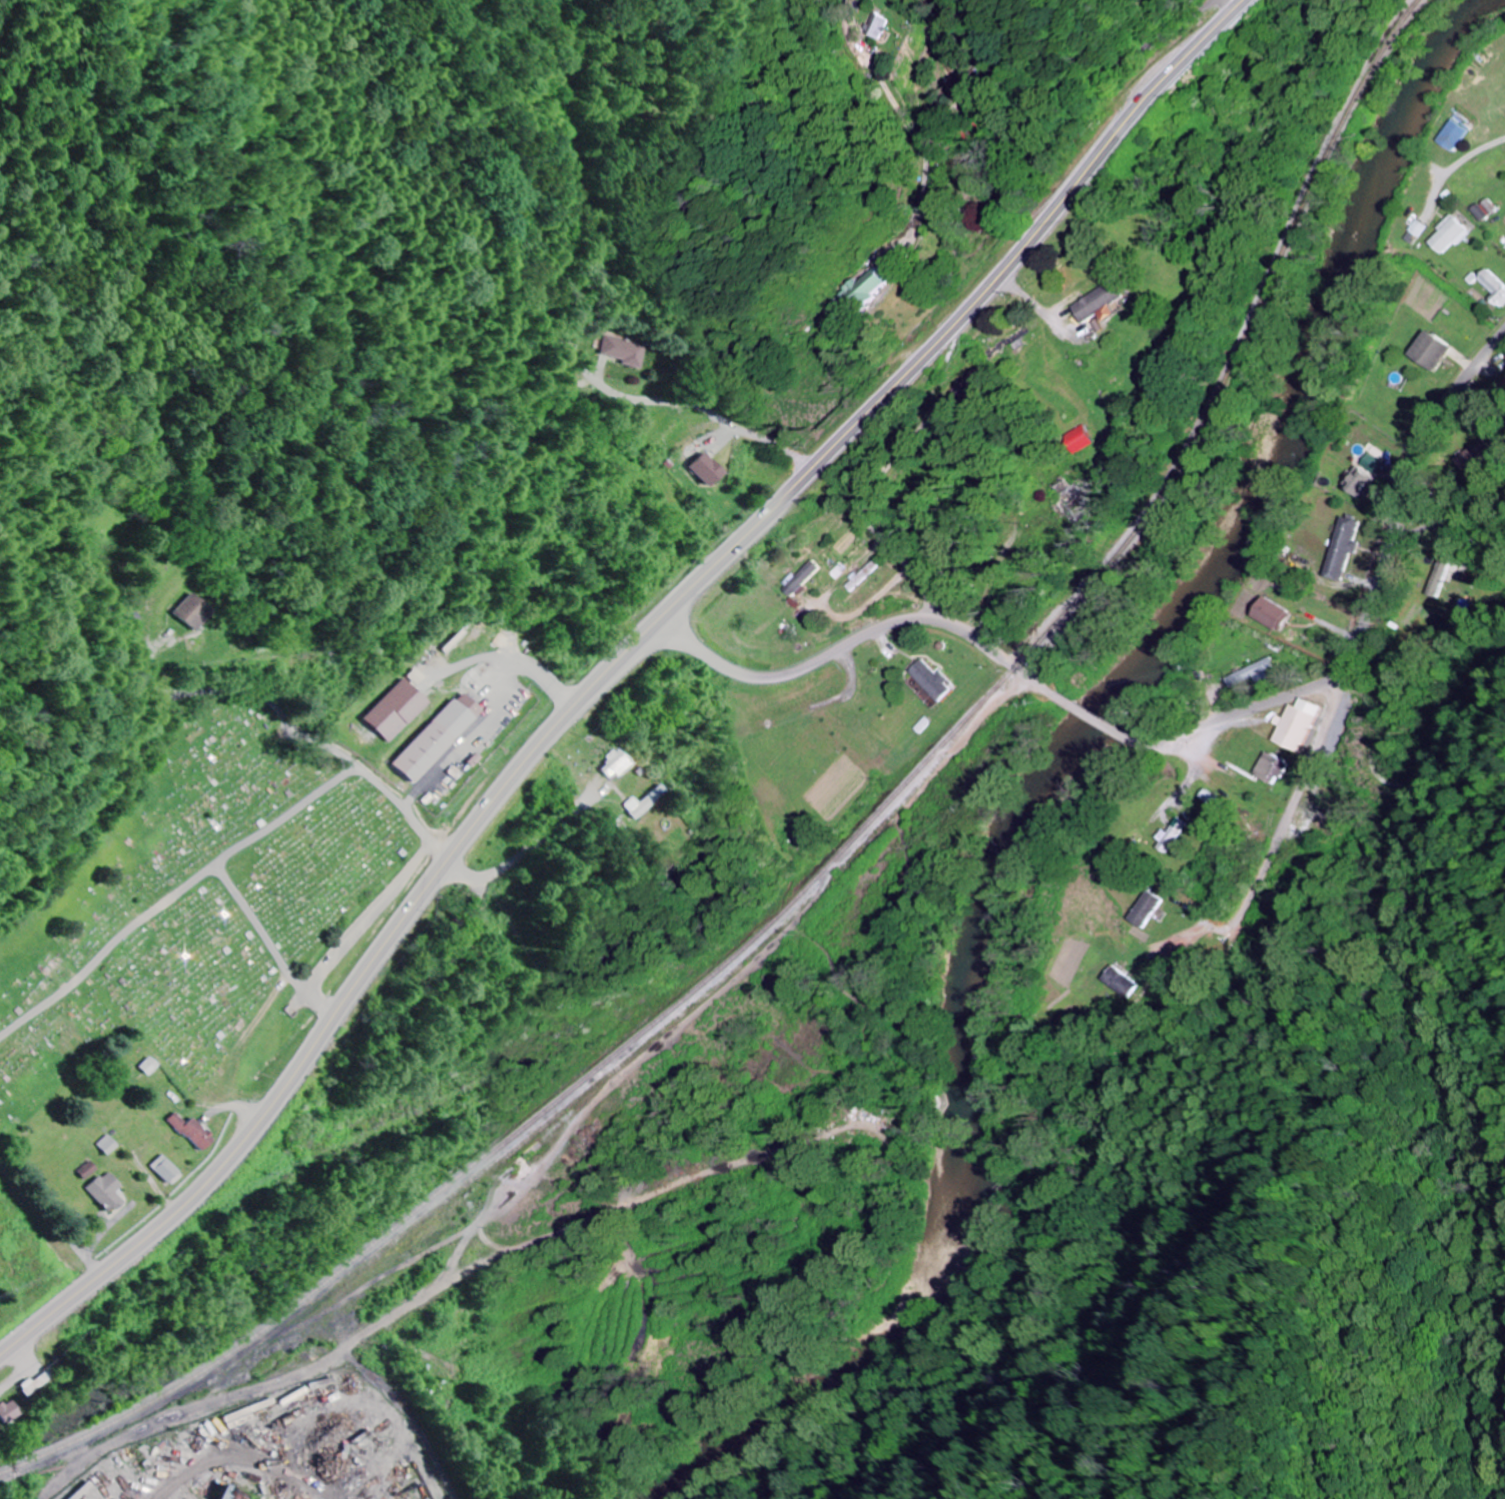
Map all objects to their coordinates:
building: (874, 25)
building: (1453, 135)
park: (733, 154)
building: (1477, 212)
building: (1414, 231)
building: (1448, 234)
building: (1493, 288)
building: (867, 292)
building: (1105, 301)
railway: (1237, 349)
building: (1433, 350)
building: (619, 351)
building: (979, 392)
road: (701, 409)
building: (1473, 456)
building: (708, 470)
building: (1364, 477)
road: (1448, 513)
road: (1469, 539)
building: (1341, 548)
road: (909, 567)
building: (866, 575)
building: (803, 579)
road: (1366, 592)
building: (193, 612)
building: (1274, 615)
road: (853, 641)
road: (611, 667)
building: (1251, 674)
building: (936, 681)
road: (210, 691)
road: (1059, 698)
building: (398, 710)
road: (1096, 722)
building: (1296, 725)
building: (440, 737)
river: (1057, 759)
building: (616, 764)
building: (1267, 766)
road: (1289, 792)
building: (644, 802)
building: (1215, 802)
building: (1169, 835)
park: (193, 908)
building: (1145, 909)
building: (1119, 982)
building: (148, 1066)
railway: (541, 1115)
building: (191, 1132)
building: (104, 1145)
building: (162, 1169)
building: (83, 1170)
building: (102, 1193)
building: (8, 1411)

